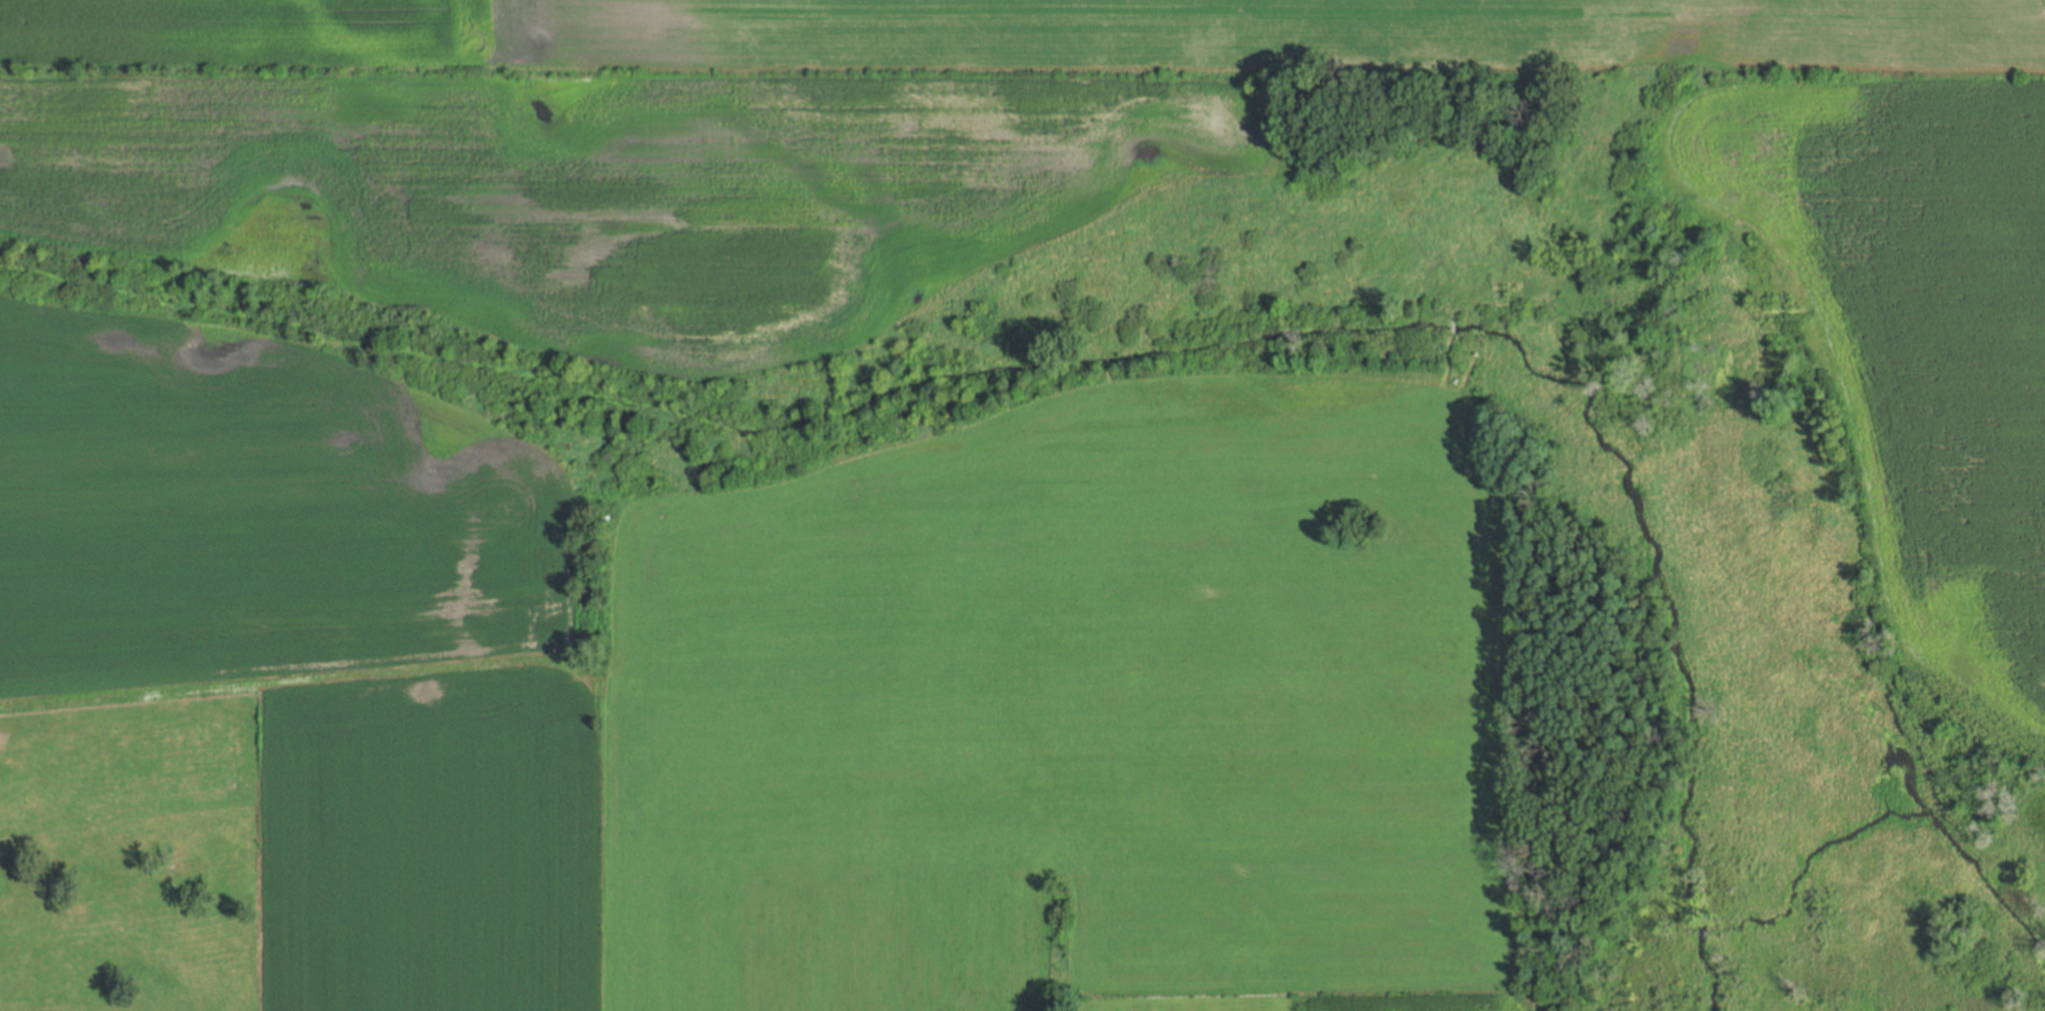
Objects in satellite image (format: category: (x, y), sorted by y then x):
road: (315, 678)

